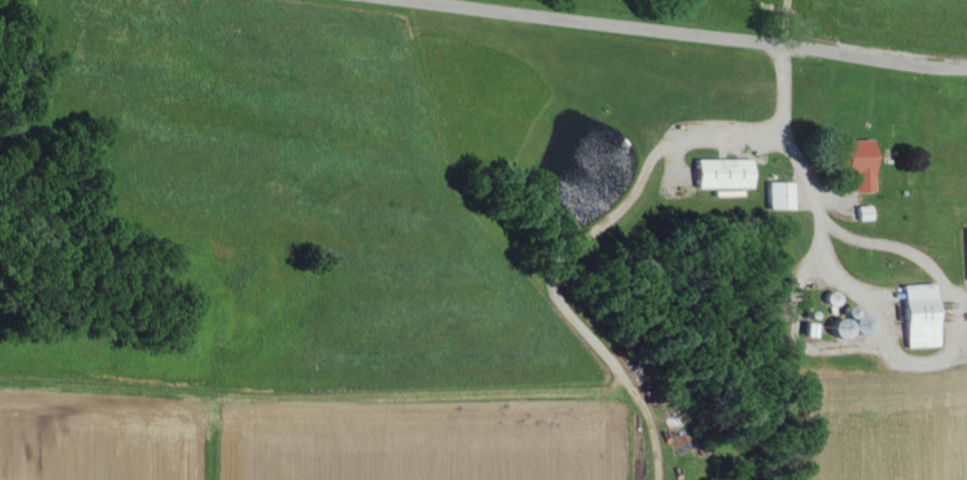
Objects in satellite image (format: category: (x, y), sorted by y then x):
road: (662, 32)
building: (861, 163)
building: (725, 173)
building: (781, 195)
building: (865, 212)
building: (922, 315)

